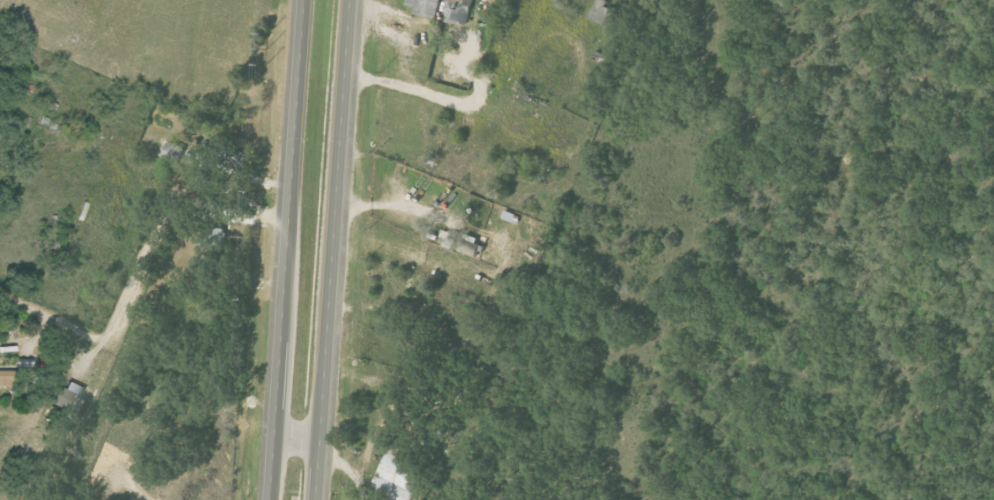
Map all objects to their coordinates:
building: (457, 11)
building: (601, 13)
road: (444, 97)
road: (397, 206)
building: (469, 245)
road: (287, 249)
road: (337, 249)
road: (134, 271)
building: (4, 376)
building: (66, 396)
road: (299, 440)
building: (393, 480)

